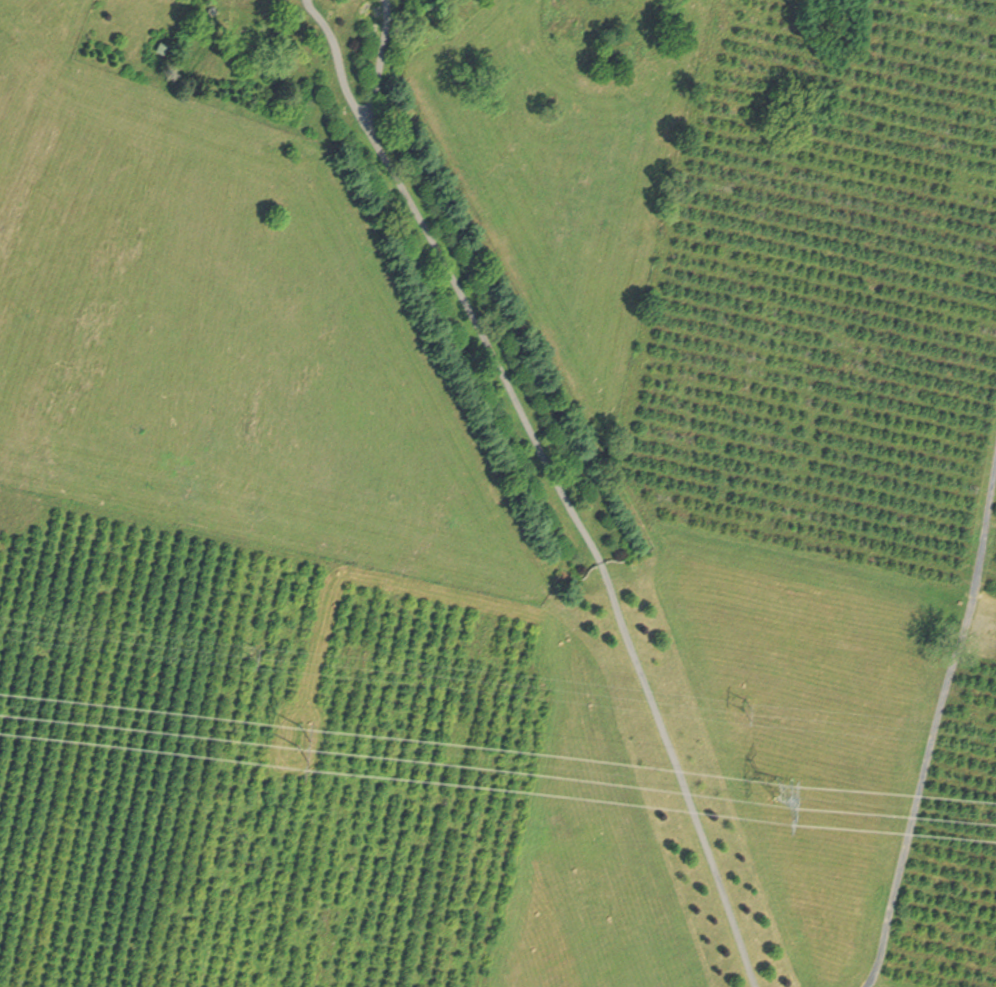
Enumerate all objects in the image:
road: (341, 65)
road: (382, 66)
road: (593, 546)
power tower: (253, 636)
power tower: (742, 690)
power tower: (301, 715)
road: (936, 719)
power tower: (763, 767)

